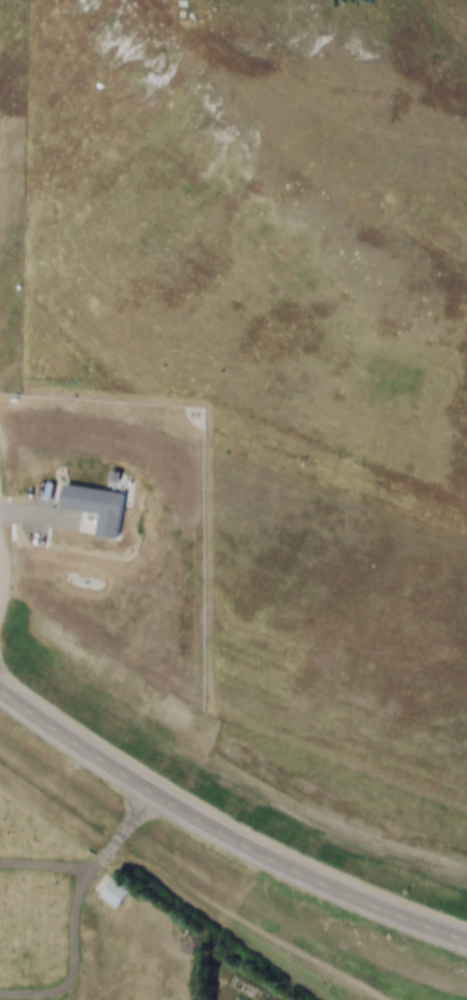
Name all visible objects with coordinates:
road: (298, 101)
building: (102, 478)
building: (84, 509)
road: (5, 557)
road: (188, 812)
road: (124, 828)
road: (48, 865)
building: (113, 890)
building: (104, 894)
park: (86, 924)
road: (430, 926)
road: (79, 962)

